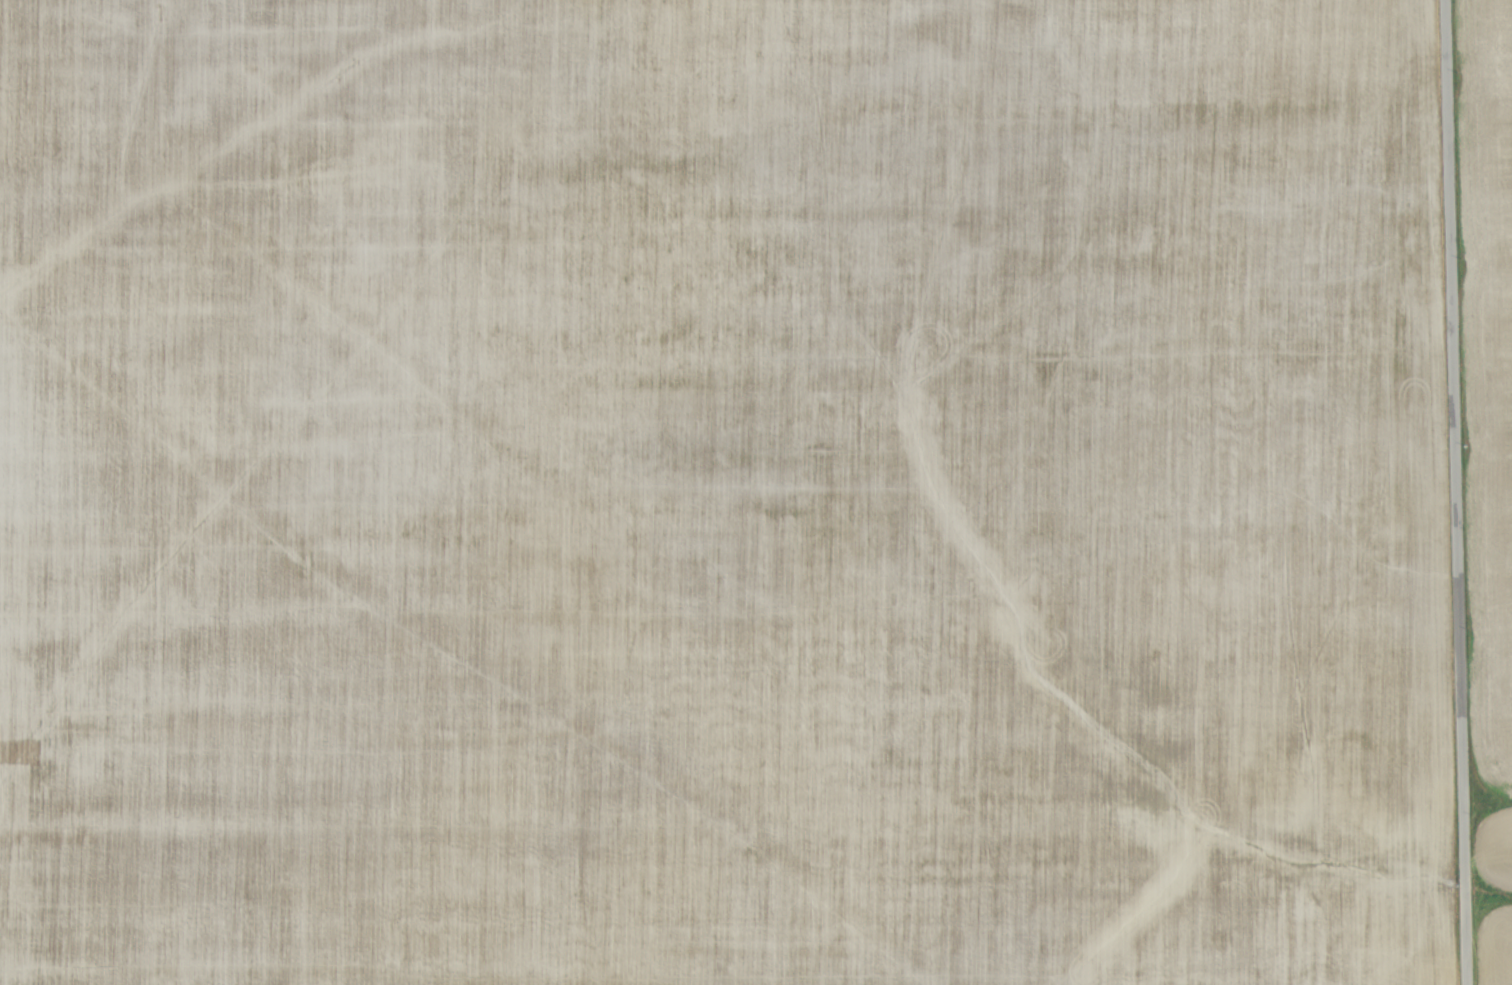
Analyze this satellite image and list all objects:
road: (1455, 492)

